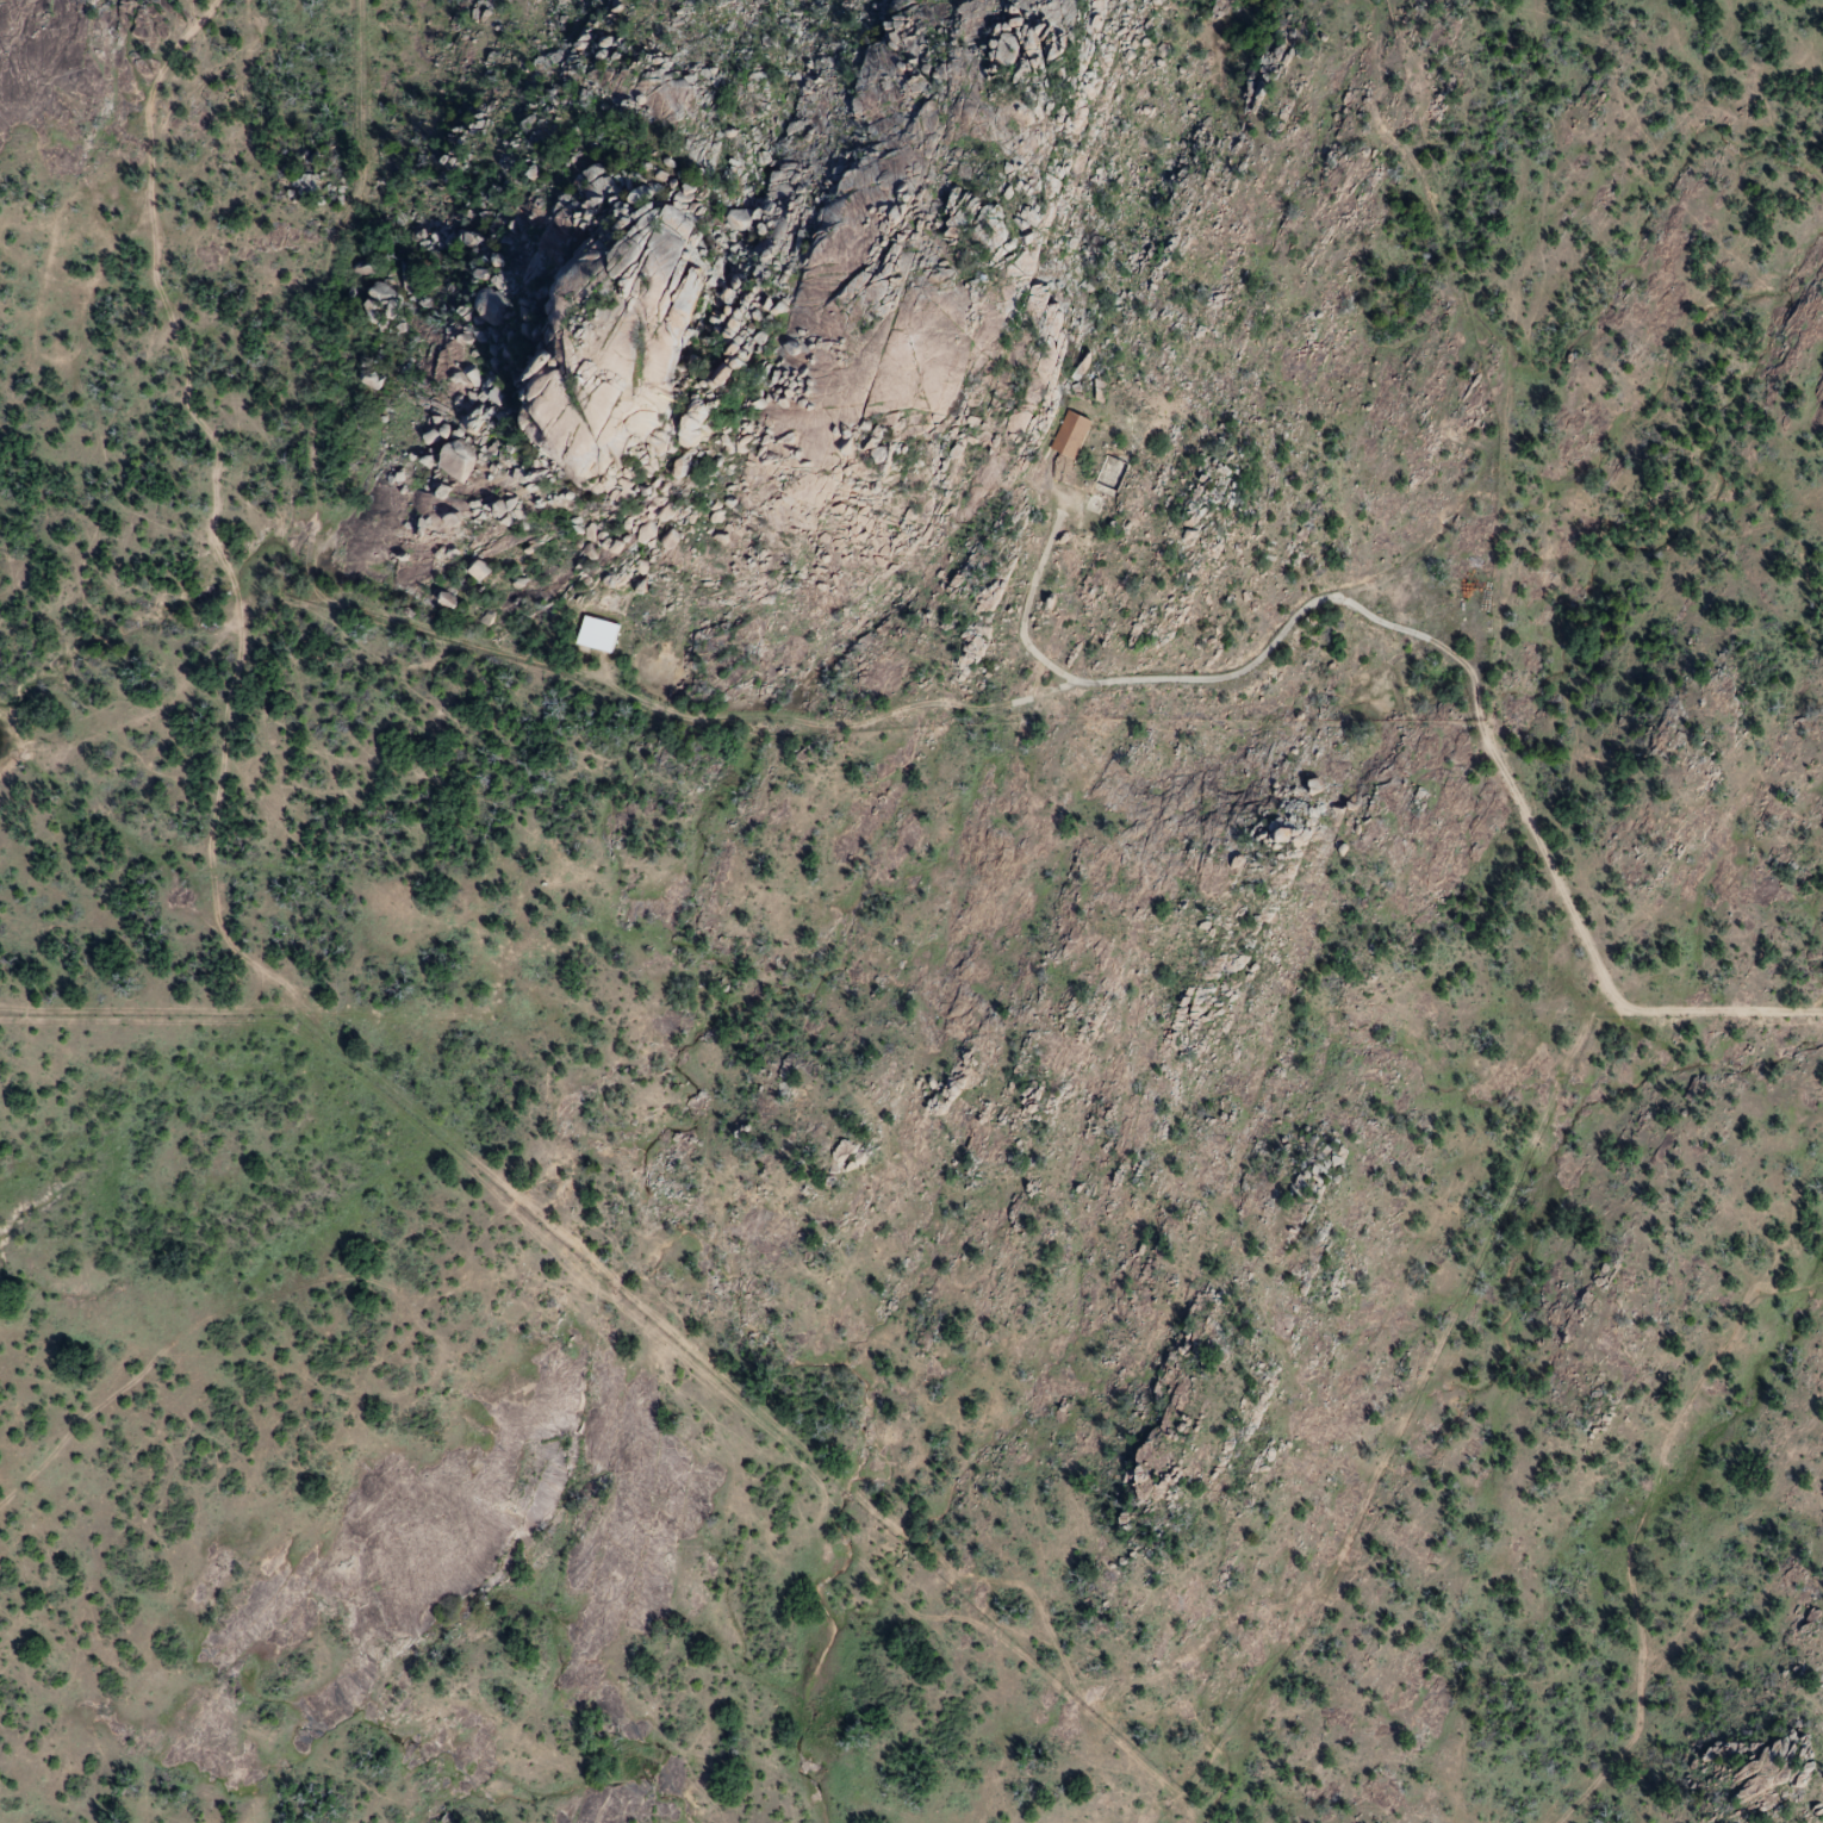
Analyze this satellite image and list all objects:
building: (738, 220)
building: (692, 297)
building: (727, 374)
building: (1071, 436)
building: (1112, 475)
building: (480, 571)
helipad: (1074, 616)
building: (597, 635)
road: (1477, 718)

